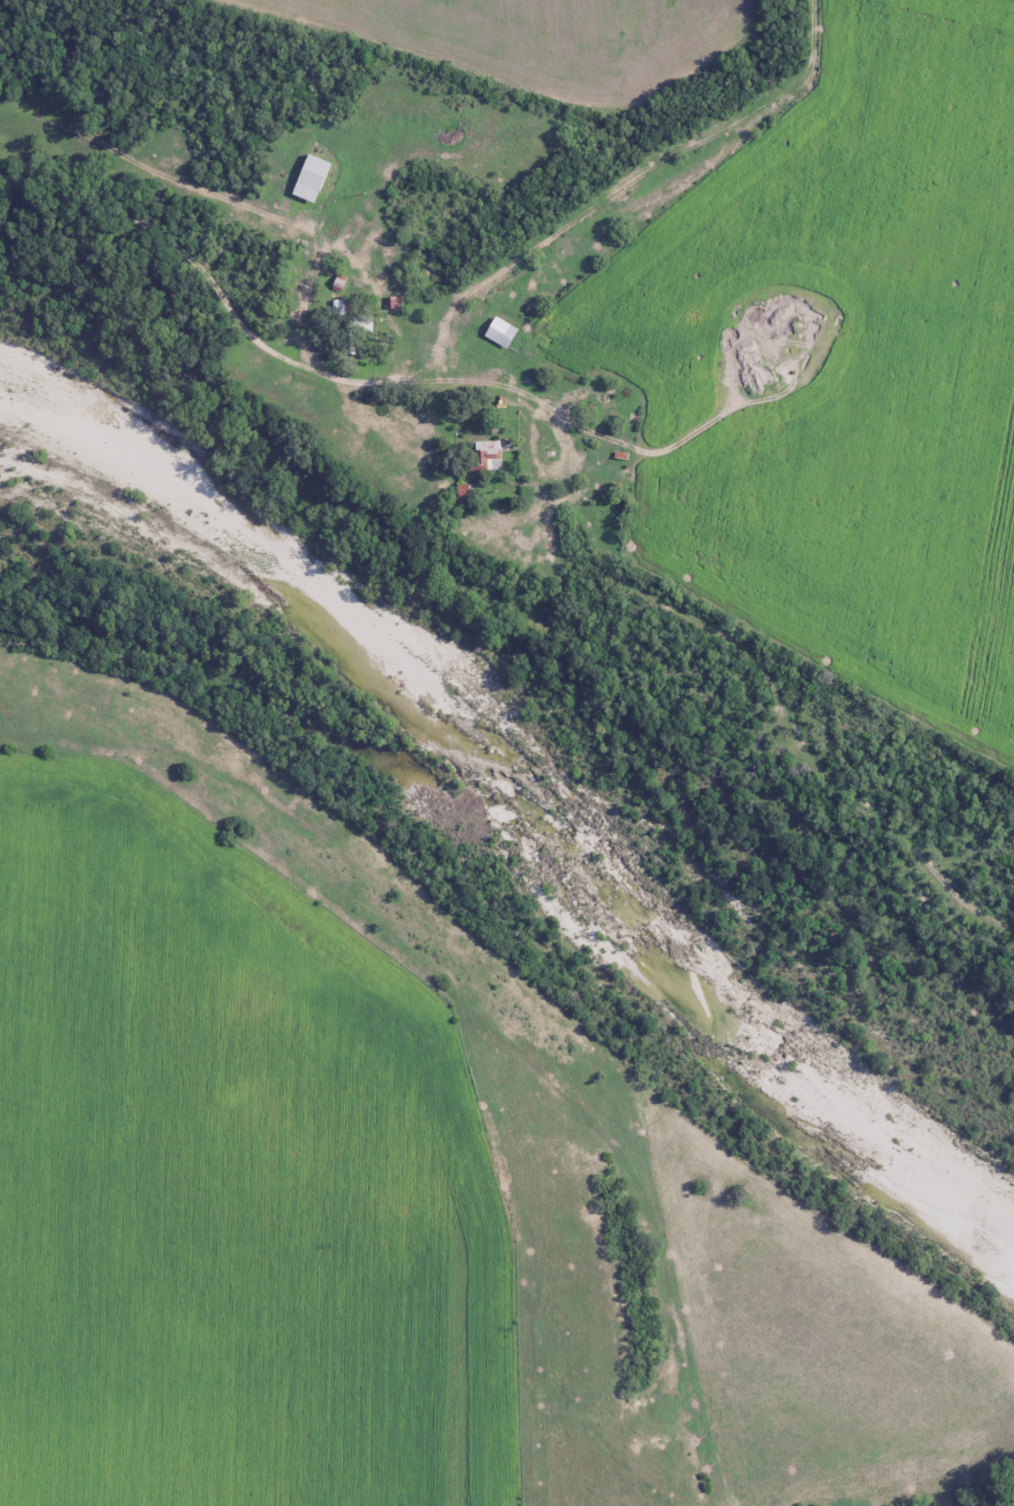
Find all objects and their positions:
road: (624, 196)
road: (238, 206)
building: (394, 303)
building: (337, 309)
building: (512, 333)
building: (355, 340)
building: (489, 456)
road: (562, 469)

